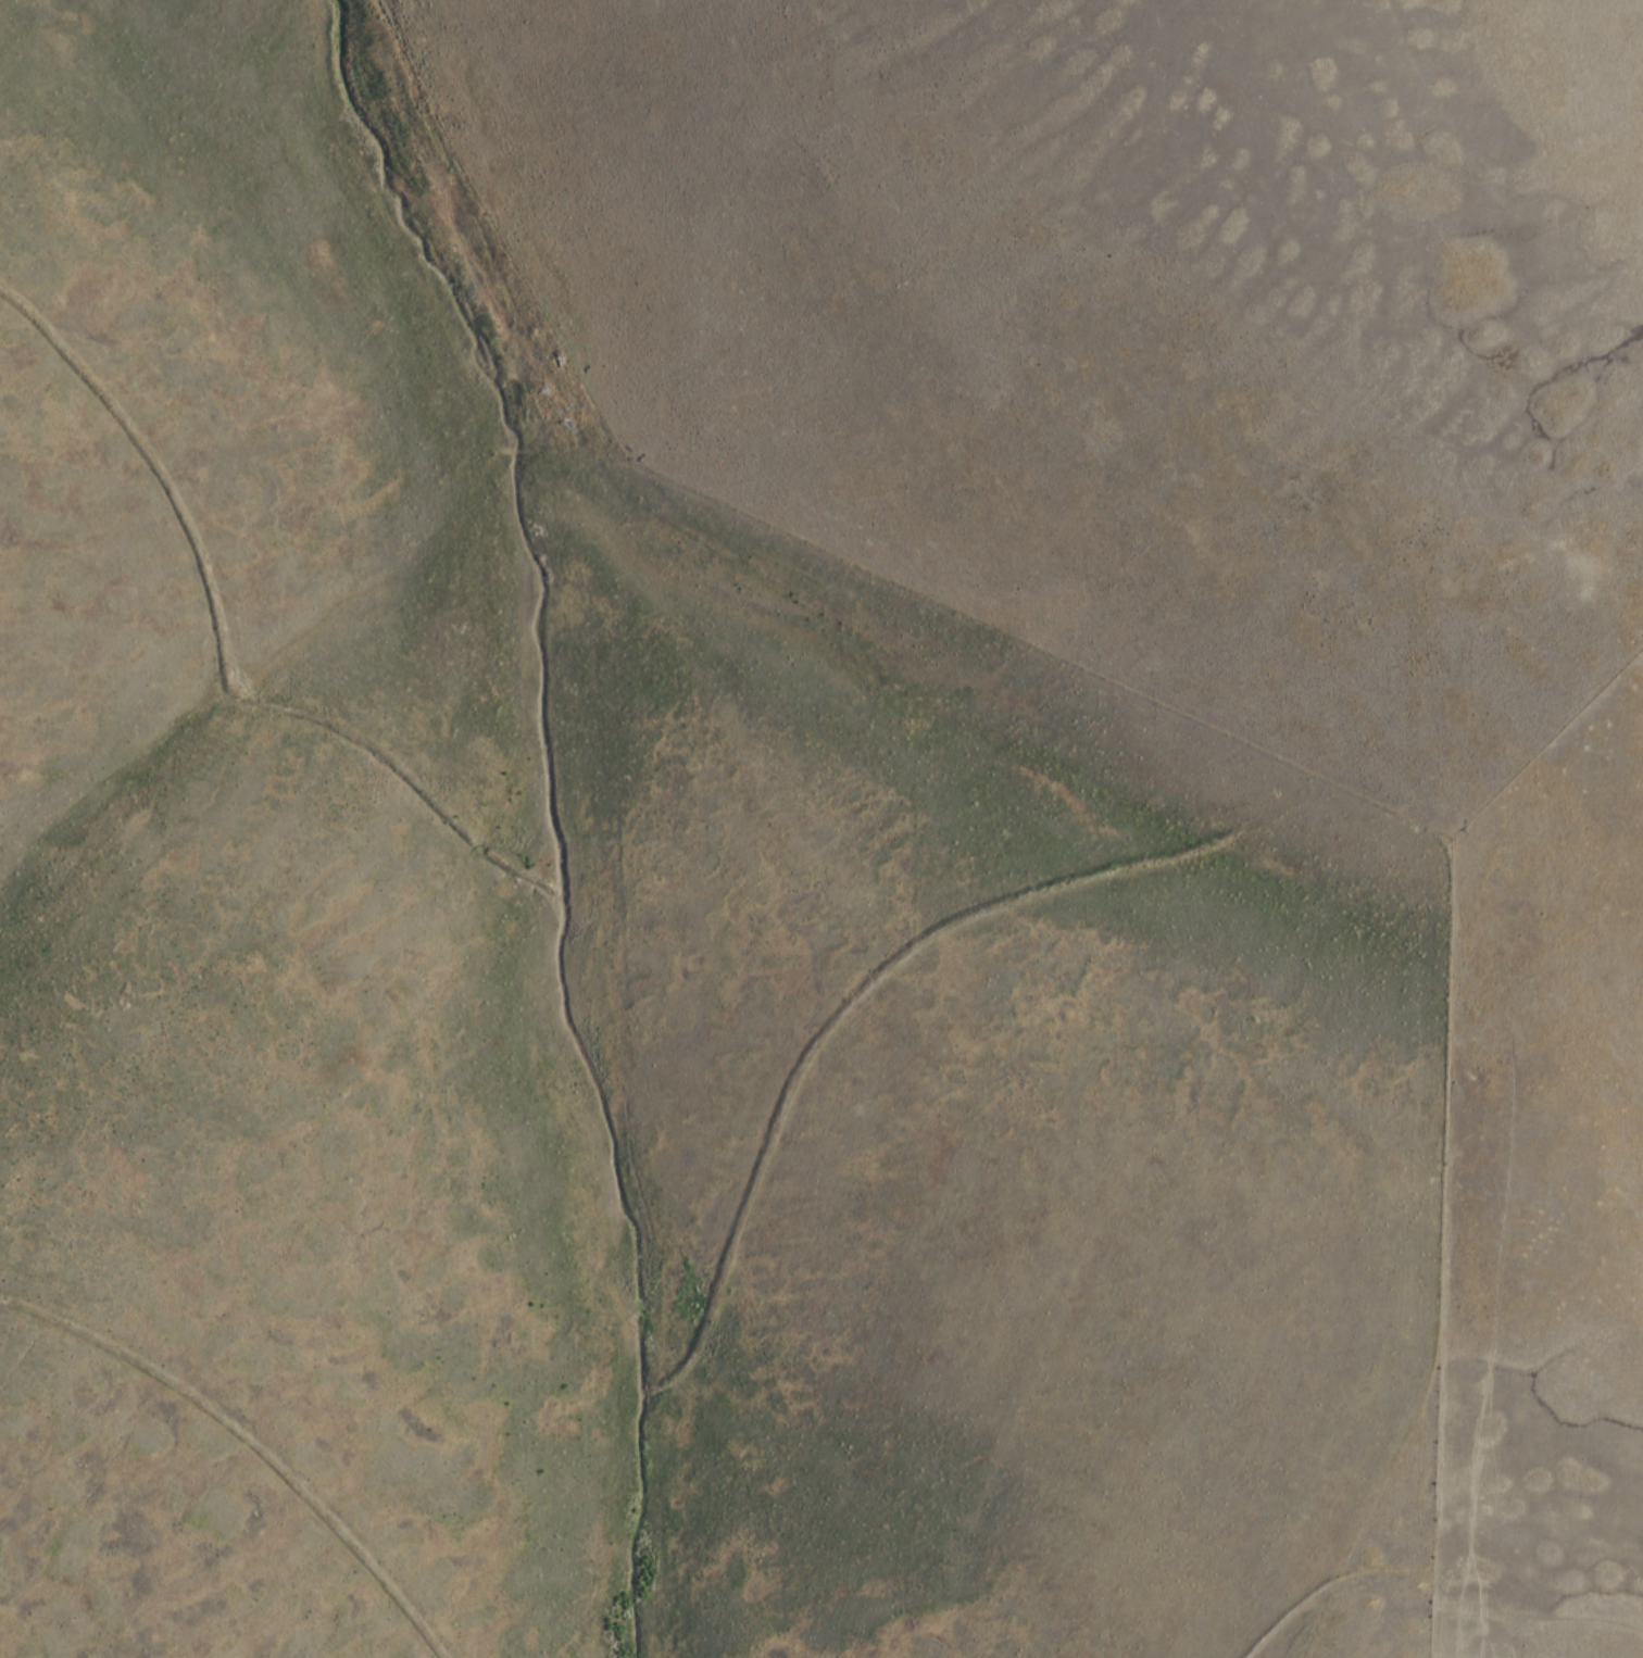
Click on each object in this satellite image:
road: (441, 151)

